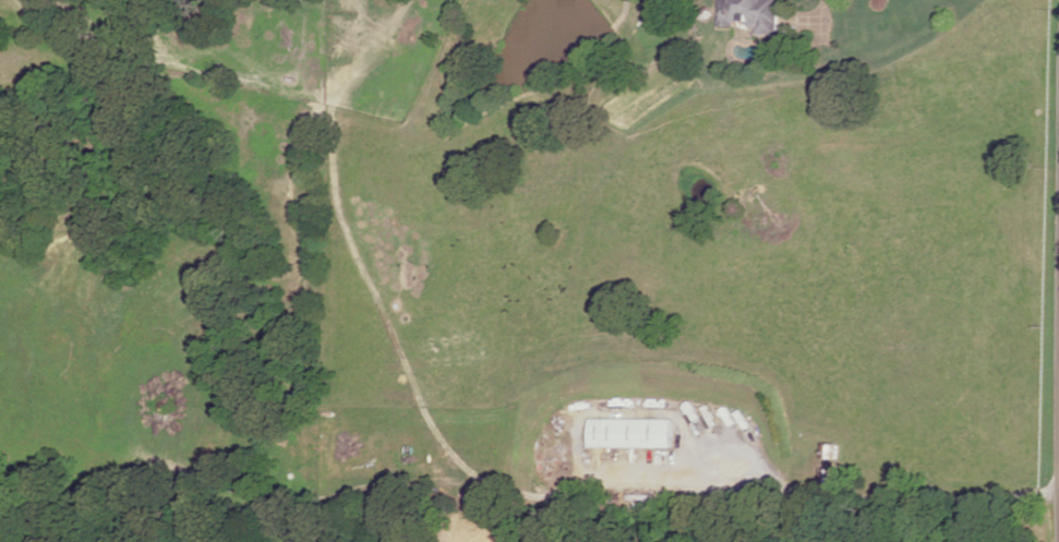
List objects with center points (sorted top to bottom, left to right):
building: (751, 13)
road: (826, 19)
road: (808, 22)
building: (629, 433)
road: (699, 442)
building: (831, 449)
building: (830, 474)
road: (922, 501)

